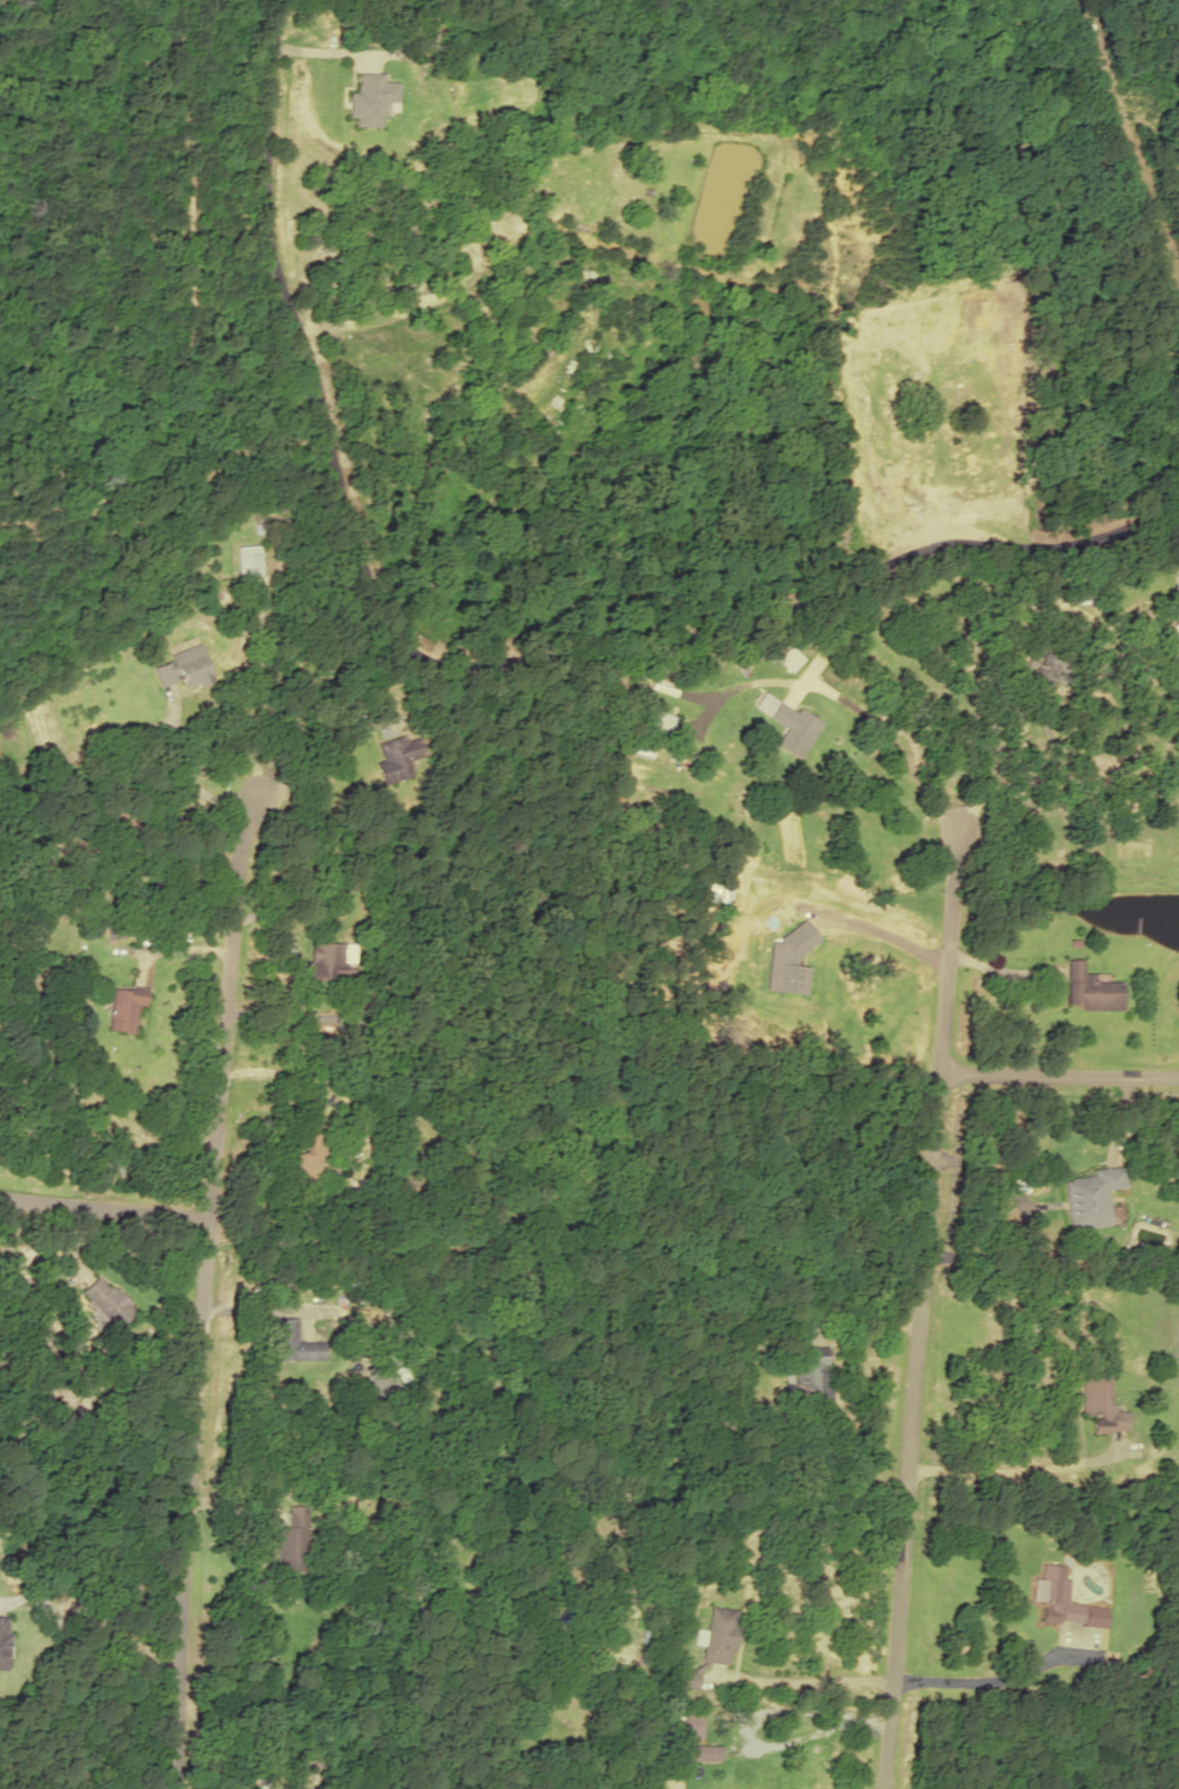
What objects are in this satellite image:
building: (369, 99)
building: (245, 561)
building: (1177, 611)
building: (180, 668)
road: (461, 669)
building: (656, 721)
building: (792, 728)
building: (398, 756)
building: (326, 960)
building: (1090, 989)
building: (123, 1008)
road: (1059, 1076)
building: (298, 1165)
building: (1088, 1197)
road: (103, 1207)
road: (201, 1286)
building: (105, 1301)
road: (919, 1307)
building: (291, 1343)
building: (810, 1376)
building: (1100, 1402)
road: (1043, 1474)
building: (291, 1539)
building: (1061, 1599)
building: (718, 1635)
building: (648, 1639)
building: (2, 1641)
building: (685, 1678)
building: (691, 1724)

